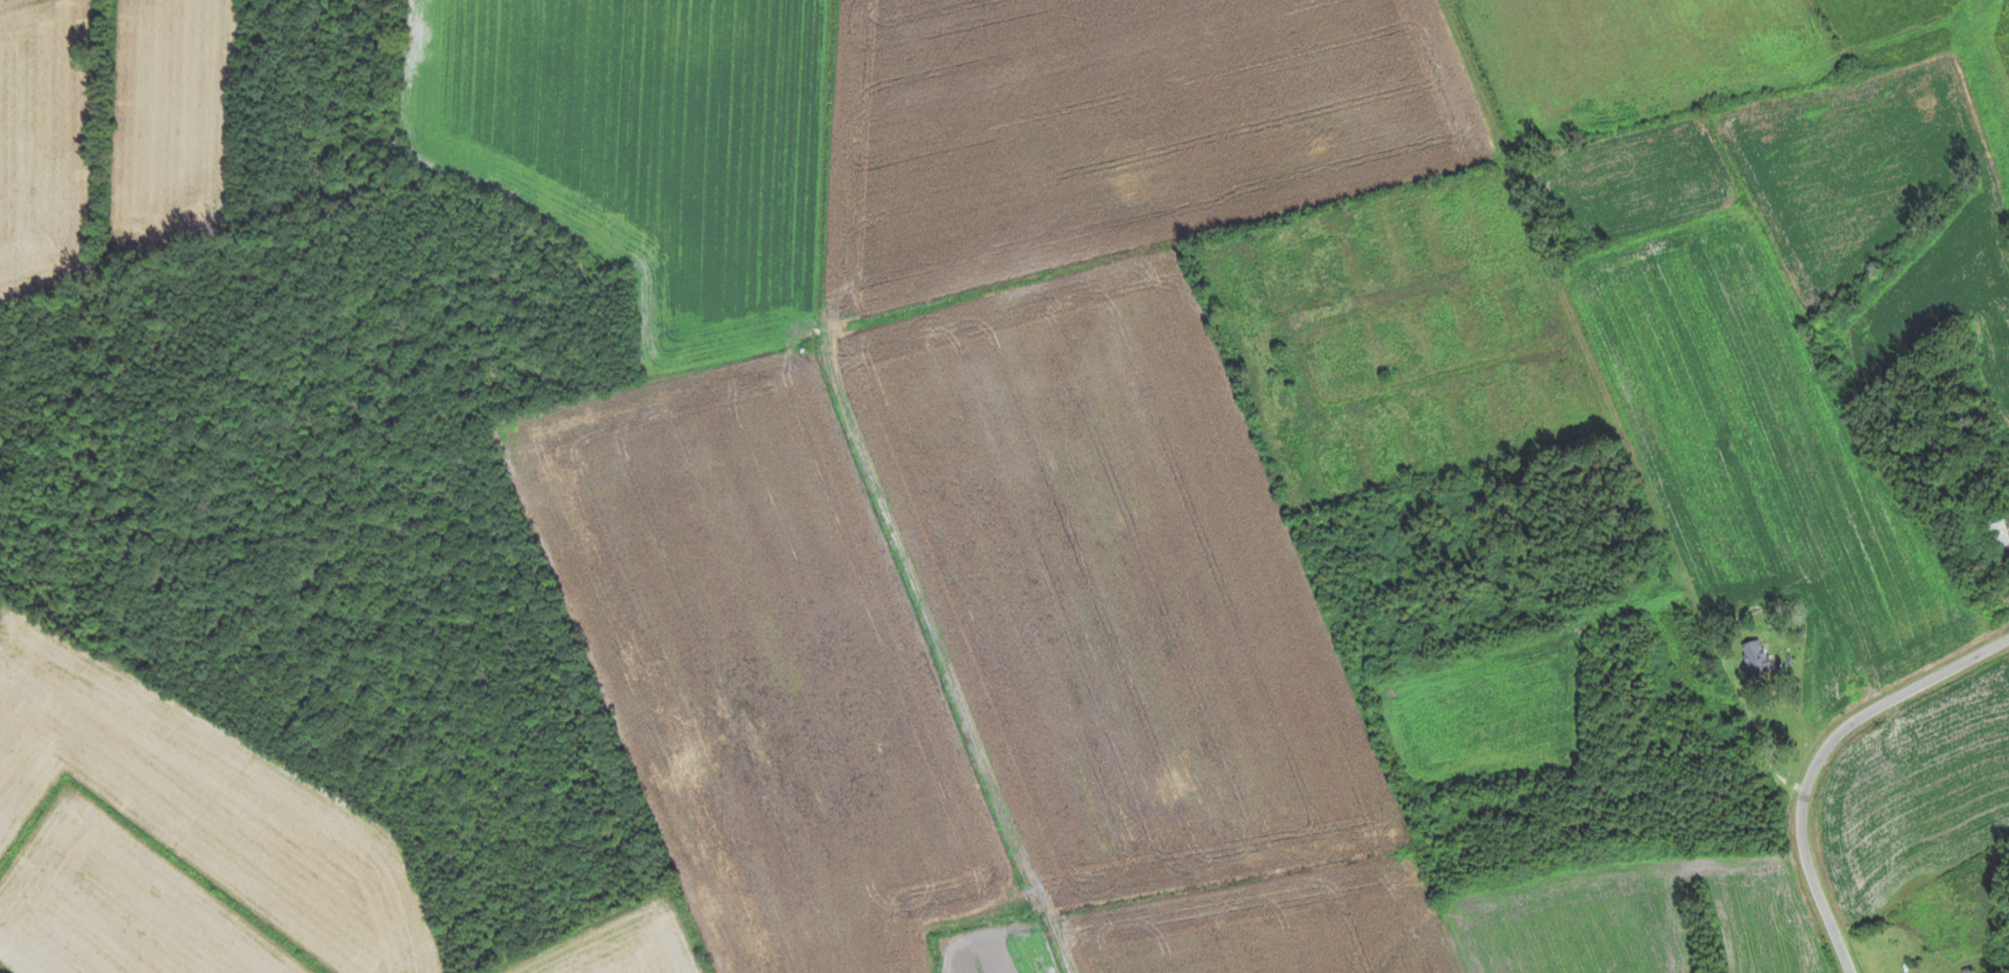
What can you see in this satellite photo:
building: (2000, 540)
building: (1757, 656)
road: (1821, 758)

